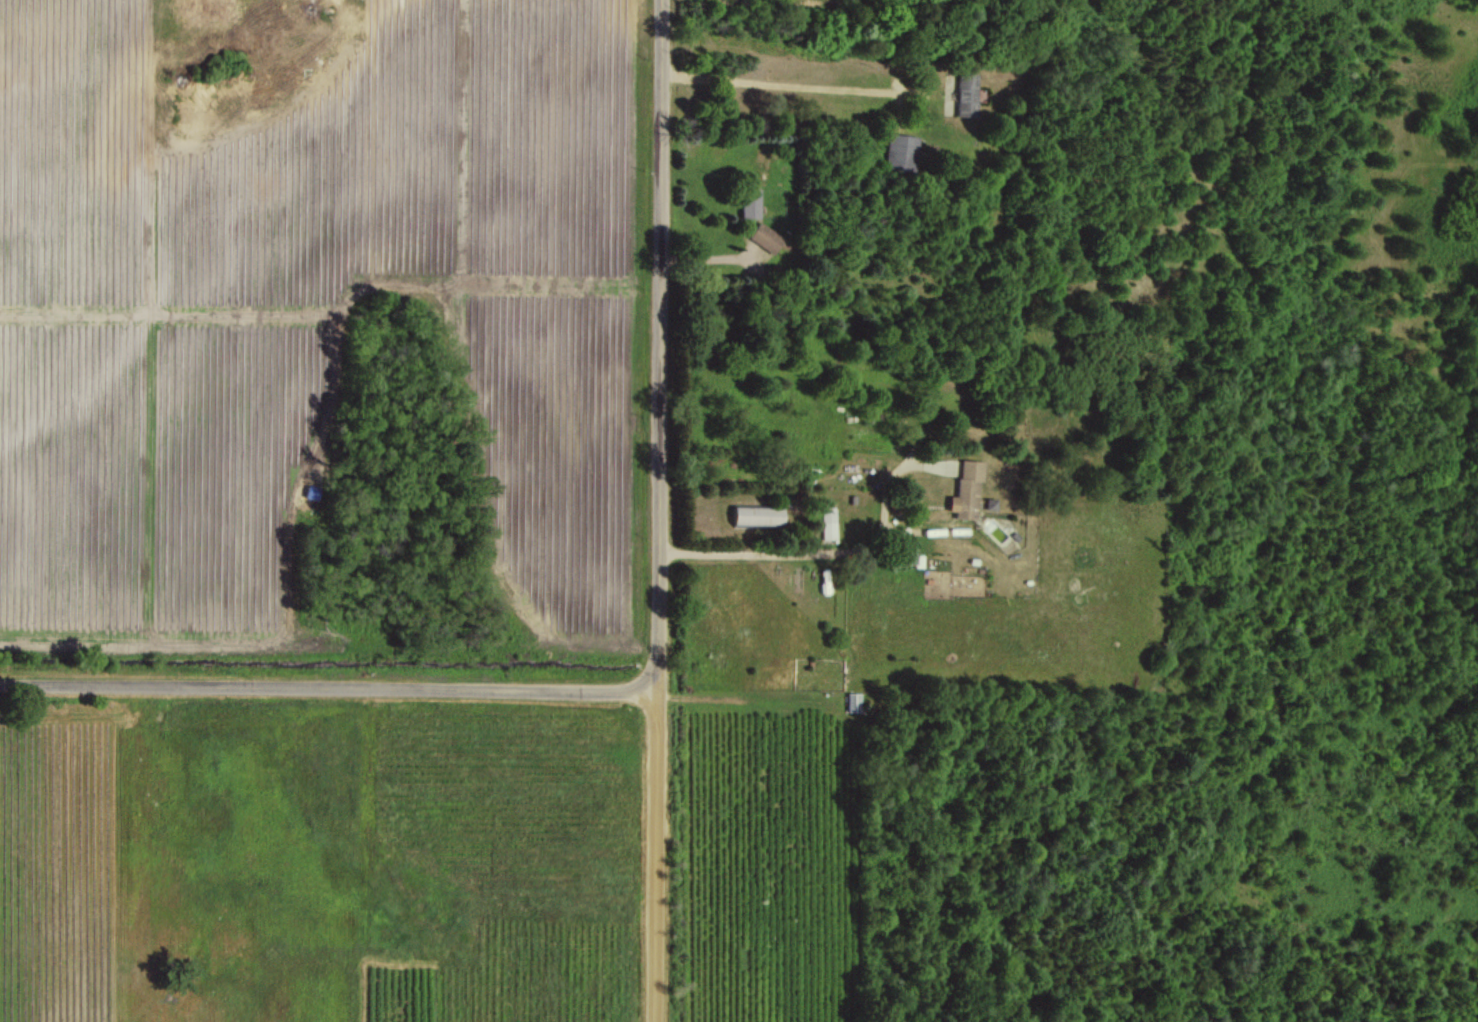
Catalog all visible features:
building: (967, 94)
building: (901, 152)
building: (751, 204)
building: (767, 238)
building: (966, 490)
building: (990, 504)
road: (662, 511)
building: (759, 515)
building: (829, 523)
road: (330, 688)

